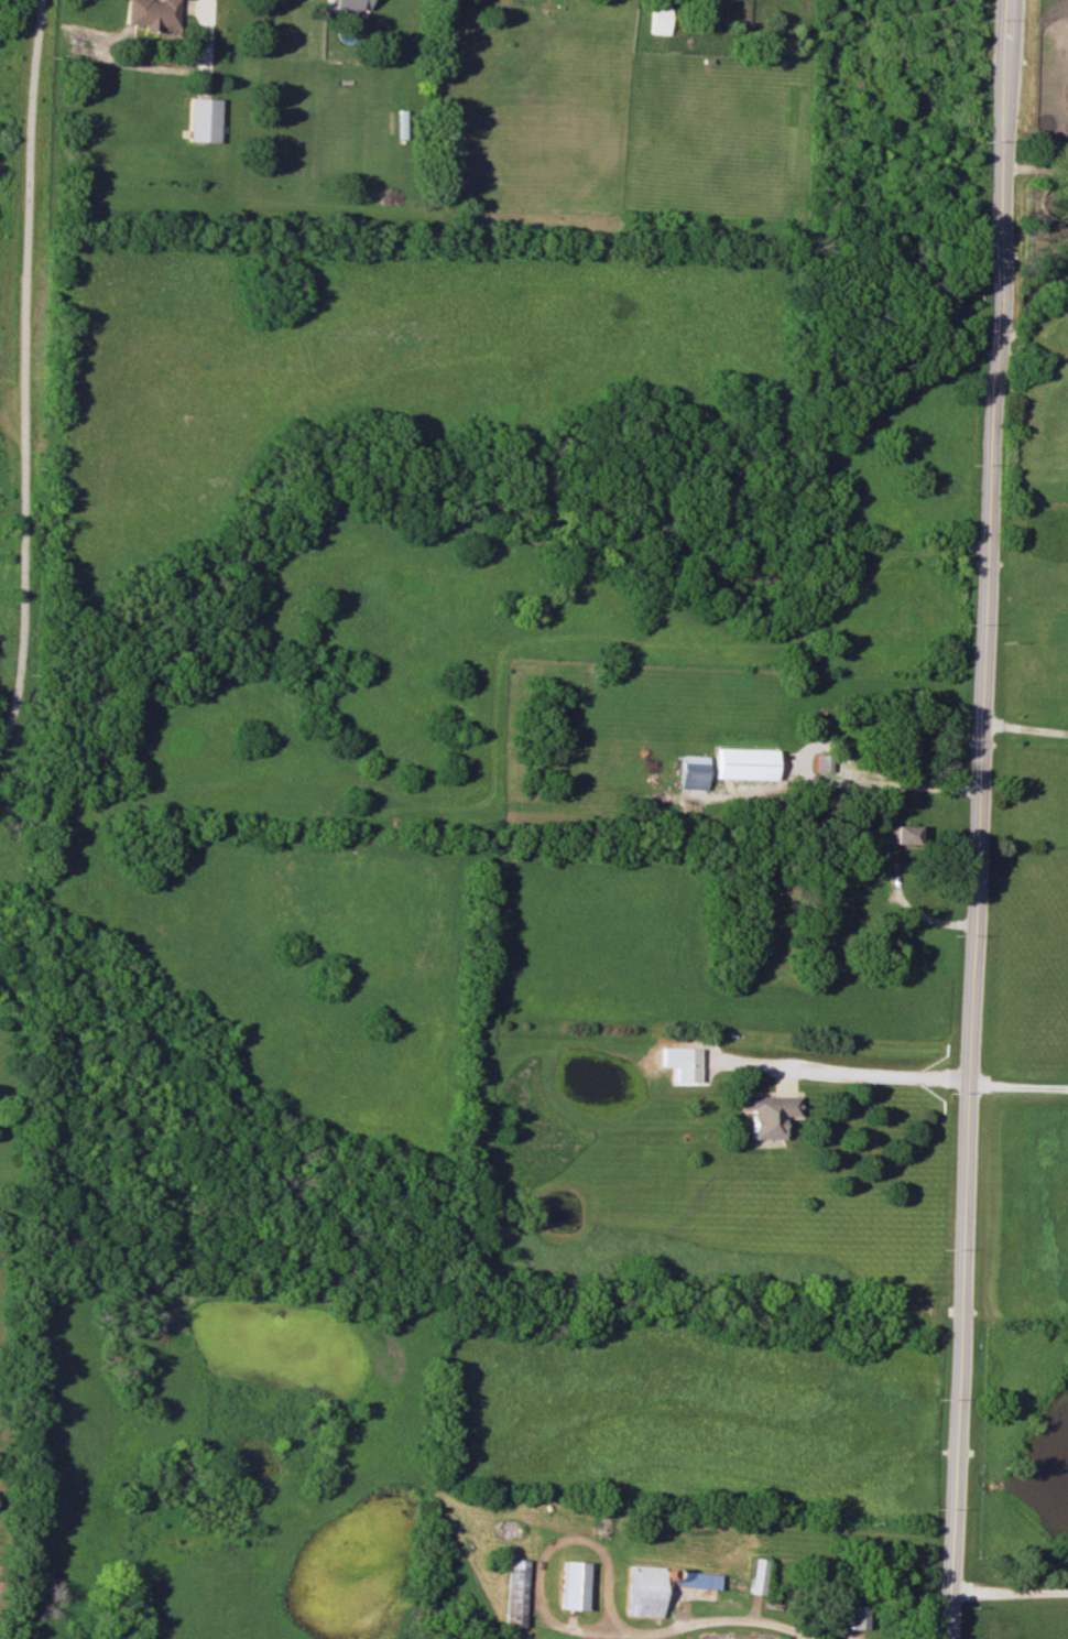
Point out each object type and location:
building: (346, 4)
building: (152, 13)
road: (210, 14)
building: (661, 19)
building: (203, 119)
road: (1035, 166)
road: (24, 367)
road: (1025, 720)
building: (906, 748)
building: (821, 761)
building: (744, 762)
building: (691, 771)
road: (833, 779)
road: (978, 818)
building: (902, 834)
road: (912, 911)
building: (679, 1062)
road: (868, 1073)
road: (1018, 1081)
building: (767, 1114)
building: (570, 1585)
building: (683, 1585)
road: (1009, 1589)
road: (565, 1626)
road: (810, 1635)
building: (733, 1637)

